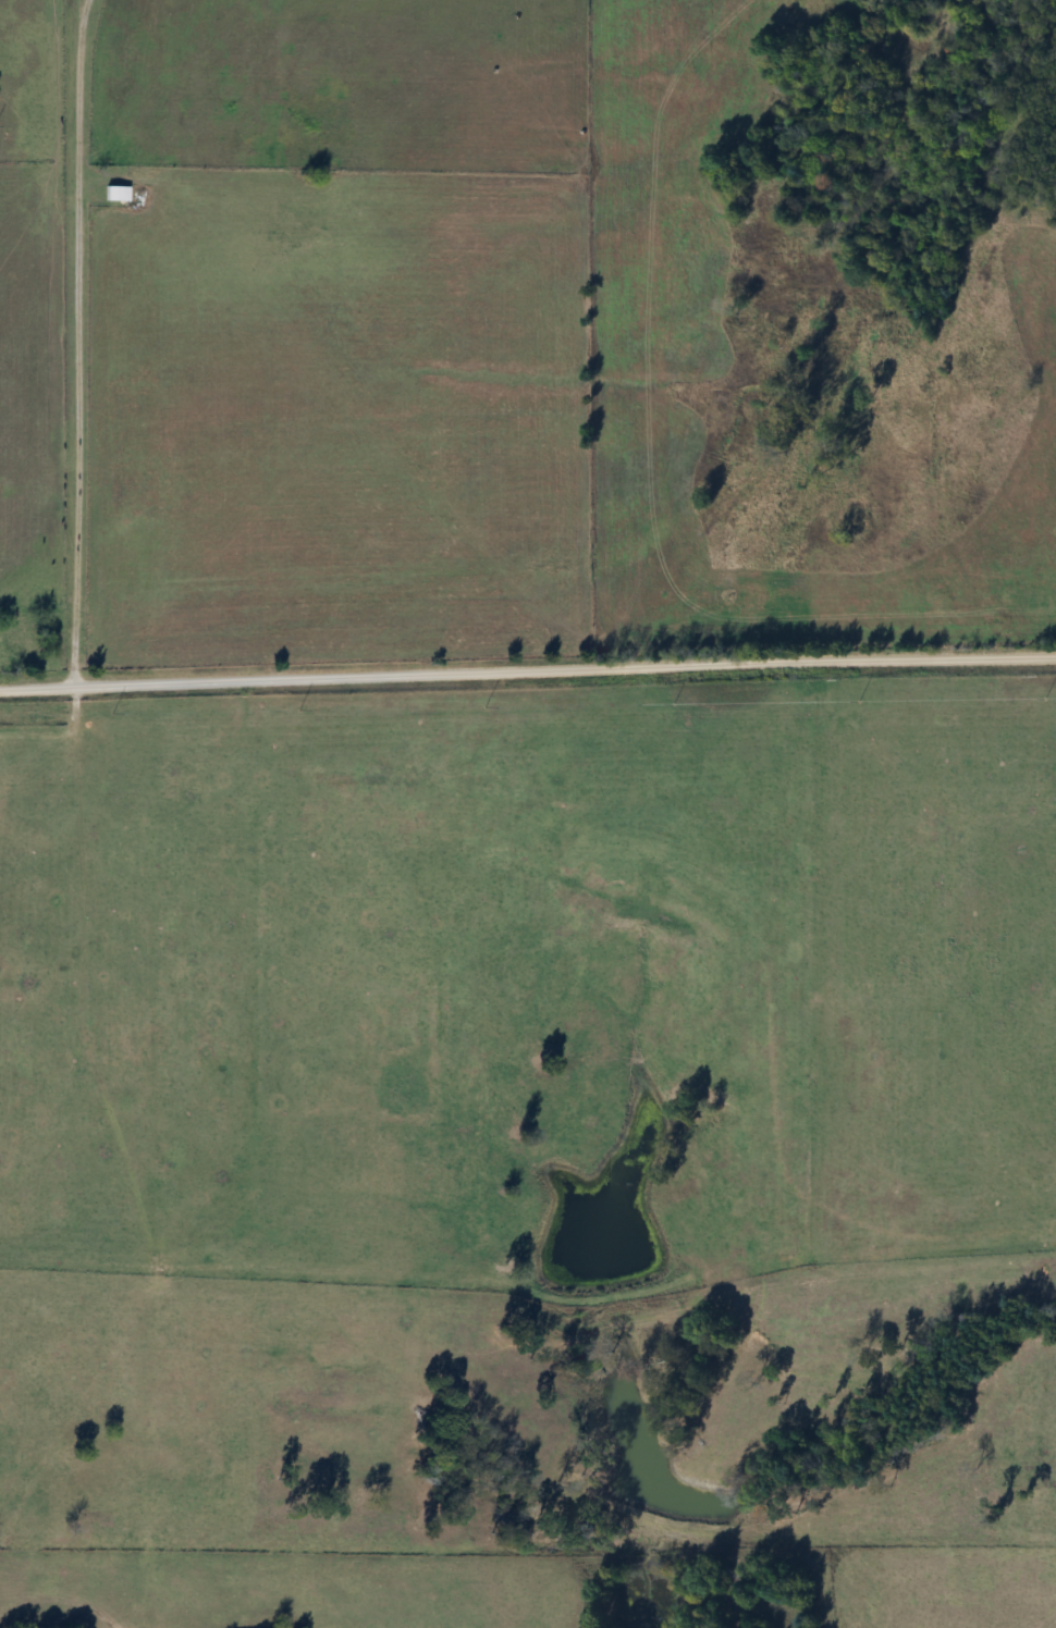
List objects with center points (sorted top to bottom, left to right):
building: (115, 195)
road: (527, 674)

